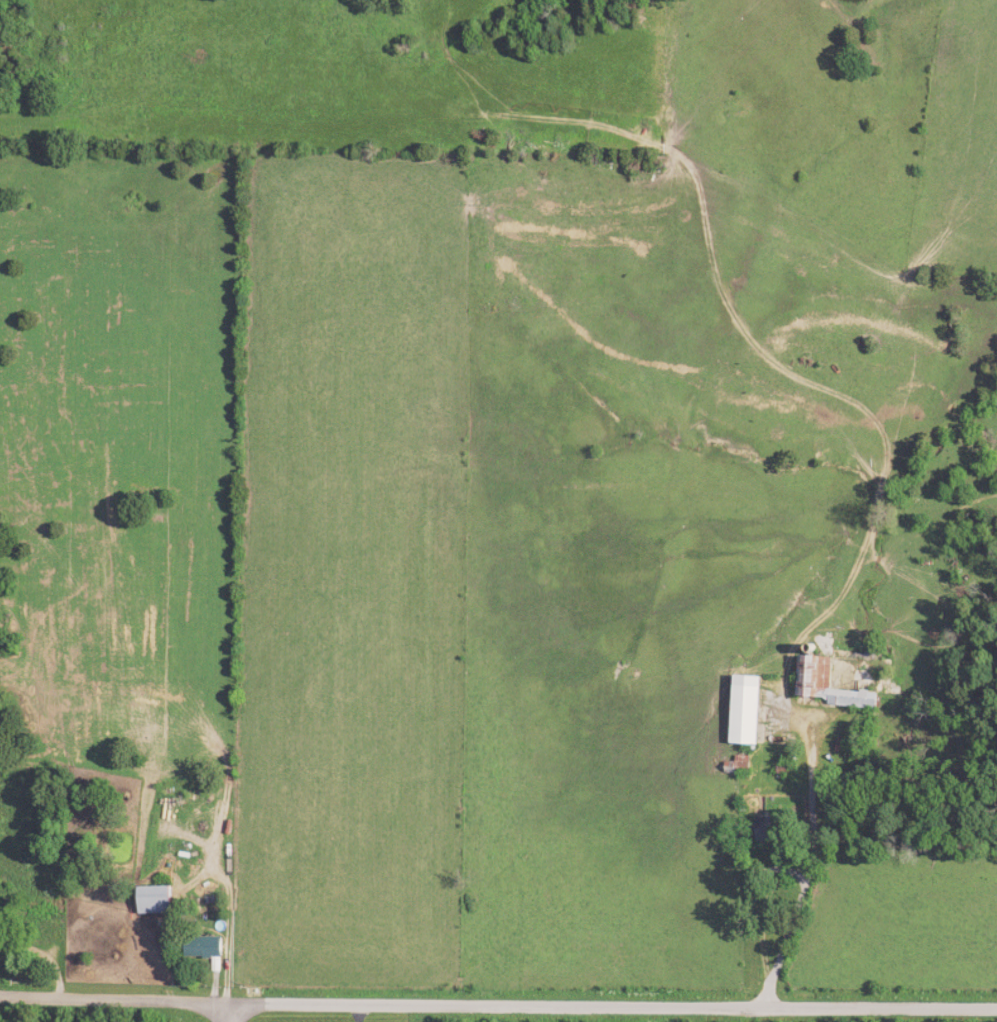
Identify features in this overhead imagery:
building: (822, 673)
building: (752, 710)
building: (770, 825)
road: (807, 869)
building: (157, 900)
building: (207, 948)
road: (498, 1010)
road: (233, 1015)
road: (352, 1015)

